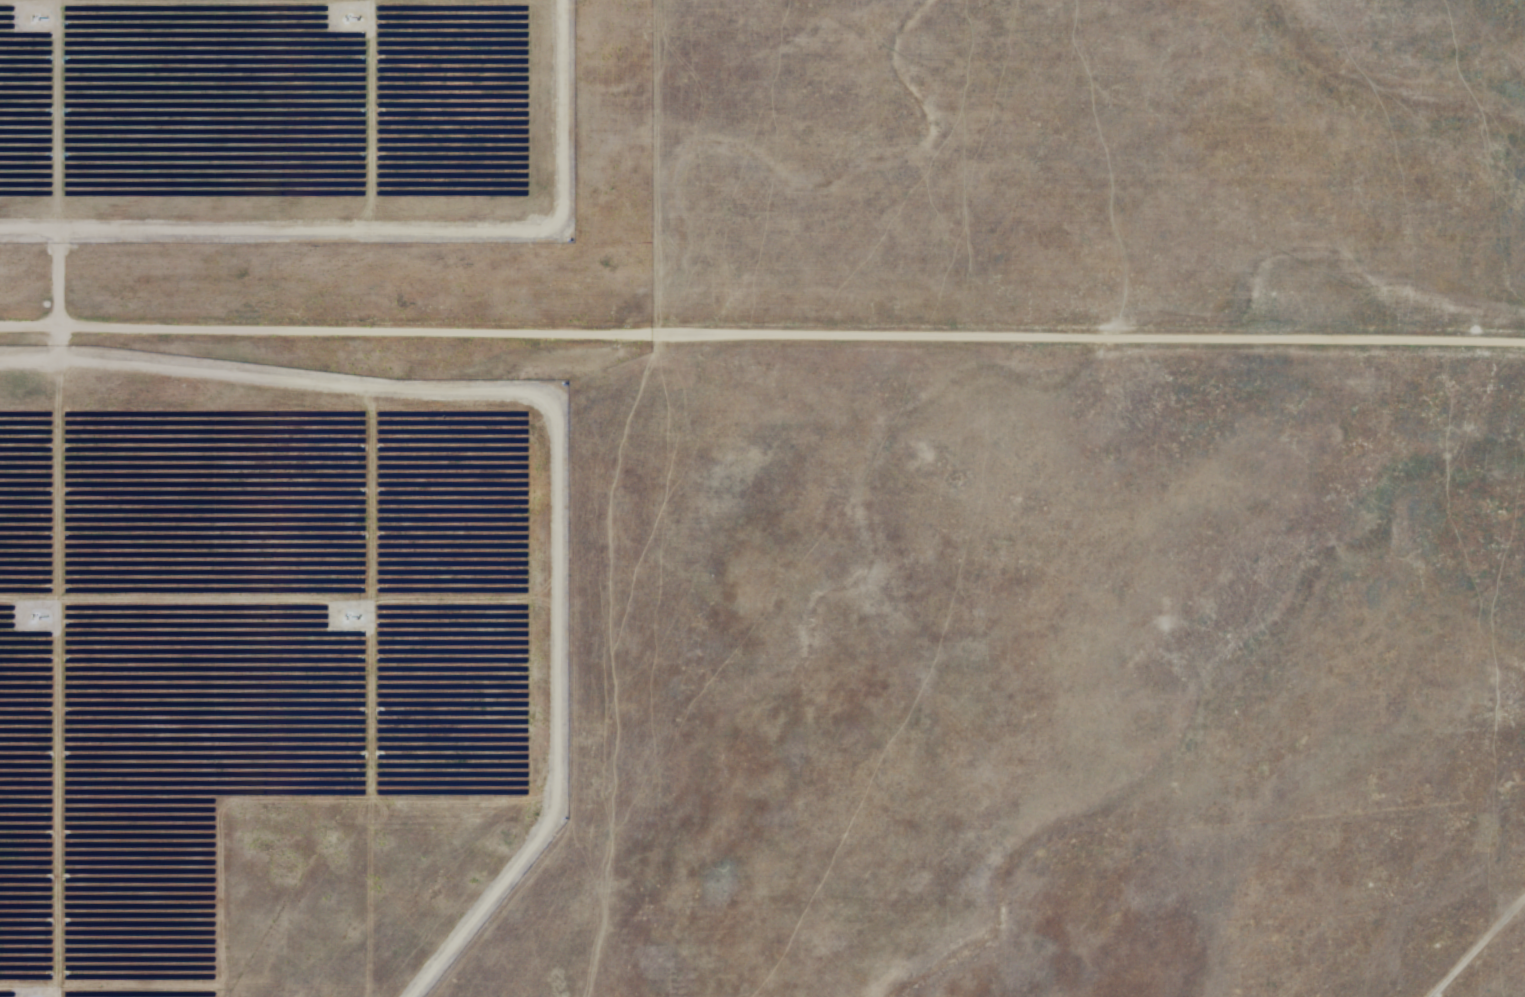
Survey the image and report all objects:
road: (762, 335)
solar farm: (328, 499)
road: (1481, 951)

